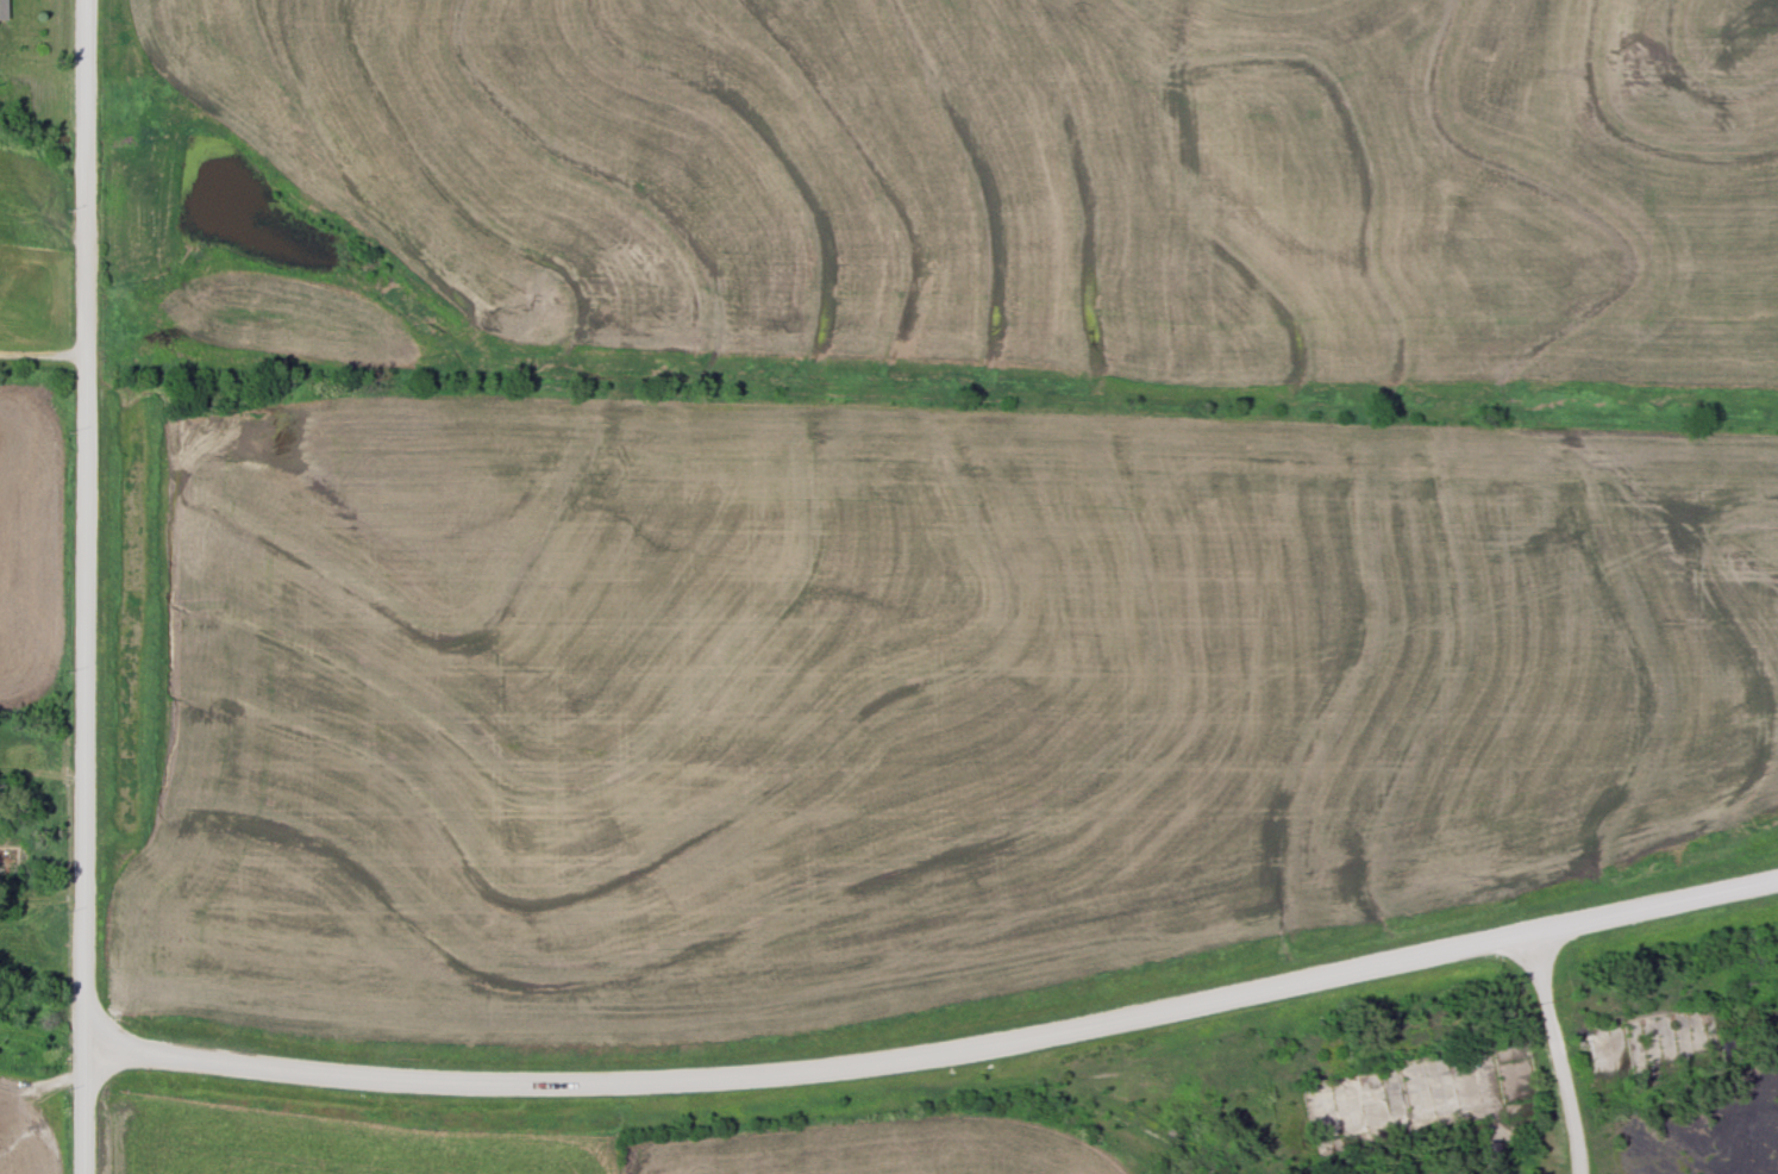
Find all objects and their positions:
building: (4, 11)
crop: (1044, 177)
road: (45, 358)
crop: (29, 549)
road: (89, 587)
crop: (884, 698)
building: (13, 857)
road: (1555, 1055)
road: (940, 1057)
airport: (1021, 1125)
crop: (21, 1134)
crop: (874, 1150)

